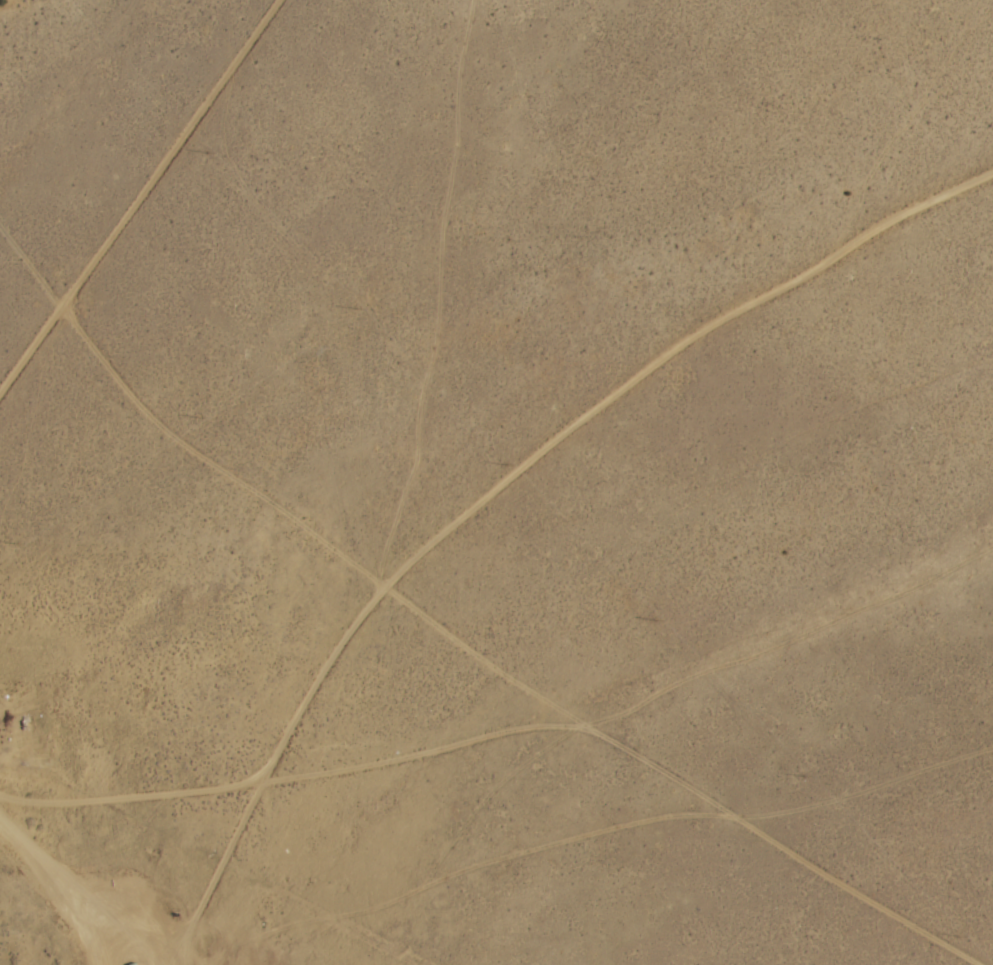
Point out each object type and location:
road: (54, 371)
road: (512, 709)
road: (296, 811)

